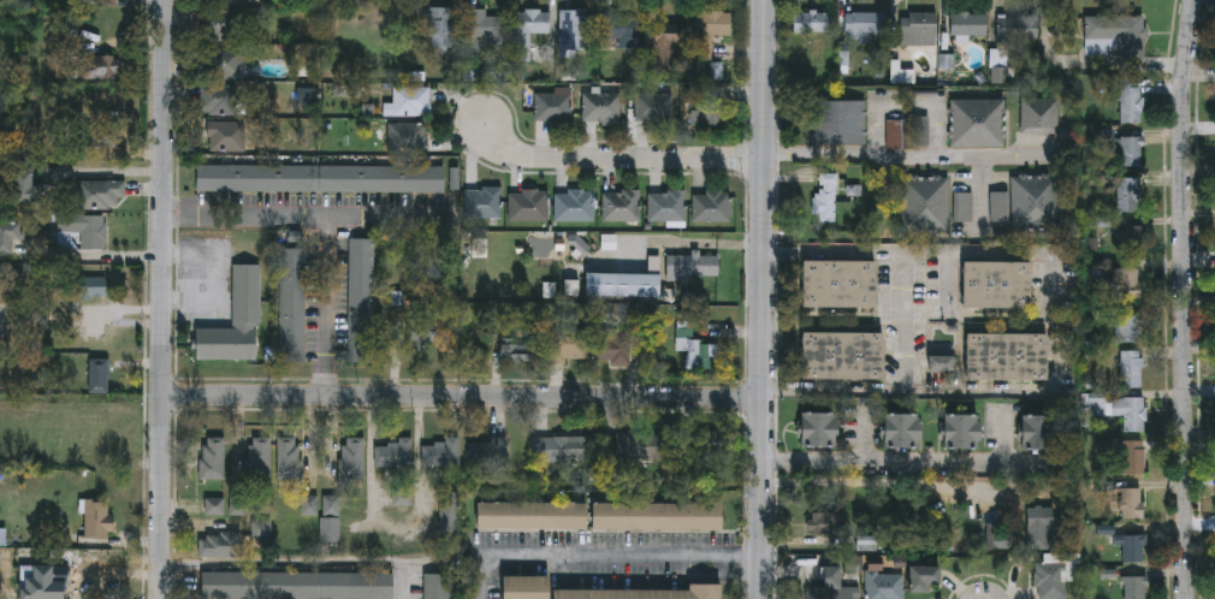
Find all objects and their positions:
building: (810, 22)
building: (865, 23)
building: (219, 24)
building: (485, 25)
building: (968, 25)
building: (438, 26)
building: (528, 29)
building: (618, 29)
building: (920, 29)
building: (1015, 29)
building: (709, 30)
building: (576, 32)
building: (1101, 34)
building: (669, 48)
building: (221, 61)
building: (100, 66)
building: (217, 99)
building: (1131, 99)
building: (408, 100)
building: (553, 107)
building: (601, 107)
building: (654, 107)
building: (710, 113)
building: (1039, 114)
building: (841, 121)
building: (977, 121)
building: (108, 130)
building: (894, 134)
building: (225, 135)
building: (408, 137)
building: (1130, 149)
road: (896, 154)
road: (614, 158)
road: (102, 173)
building: (320, 178)
building: (26, 185)
road: (982, 185)
building: (1127, 191)
building: (101, 192)
building: (825, 197)
building: (484, 202)
building: (1027, 202)
building: (924, 203)
building: (529, 204)
building: (575, 204)
building: (670, 204)
building: (622, 206)
building: (712, 207)
building: (962, 207)
road: (302, 214)
building: (85, 227)
building: (11, 233)
building: (1136, 238)
road: (688, 247)
road: (94, 254)
building: (694, 265)
building: (836, 283)
building: (1127, 283)
building: (622, 284)
building: (995, 284)
building: (93, 286)
road: (764, 298)
road: (1186, 298)
road: (162, 299)
building: (361, 301)
building: (292, 306)
road: (325, 306)
building: (235, 320)
road: (1056, 320)
road: (903, 321)
building: (1130, 327)
building: (422, 332)
building: (569, 344)
building: (614, 344)
building: (521, 346)
building: (700, 351)
building: (846, 351)
building: (1004, 357)
building: (941, 362)
building: (1131, 367)
building: (100, 374)
road: (464, 396)
building: (1130, 410)
building: (816, 428)
building: (900, 431)
building: (959, 431)
building: (1033, 432)
building: (562, 447)
building: (638, 447)
building: (396, 452)
building: (441, 452)
building: (490, 455)
building: (1134, 456)
building: (212, 457)
building: (260, 457)
building: (289, 457)
building: (354, 458)
road: (884, 465)
building: (403, 494)
building: (1131, 502)
building: (214, 505)
building: (325, 514)
building: (529, 514)
building: (656, 515)
building: (99, 517)
building: (829, 521)
building: (450, 523)
building: (1039, 526)
building: (261, 527)
building: (219, 544)
building: (1132, 545)
road: (606, 557)
road: (298, 564)
building: (923, 577)
building: (1050, 580)
building: (297, 582)
building: (884, 583)
building: (437, 585)
building: (831, 586)
building: (1134, 586)
building: (524, 587)
building: (640, 592)

